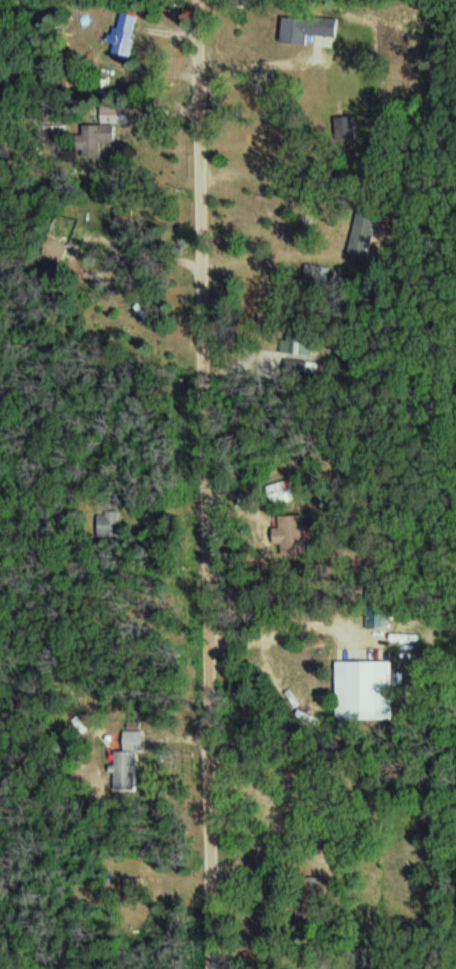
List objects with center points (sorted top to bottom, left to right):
building: (309, 29)
building: (127, 35)
building: (113, 114)
building: (91, 144)
road: (205, 484)
building: (284, 492)
building: (362, 691)

